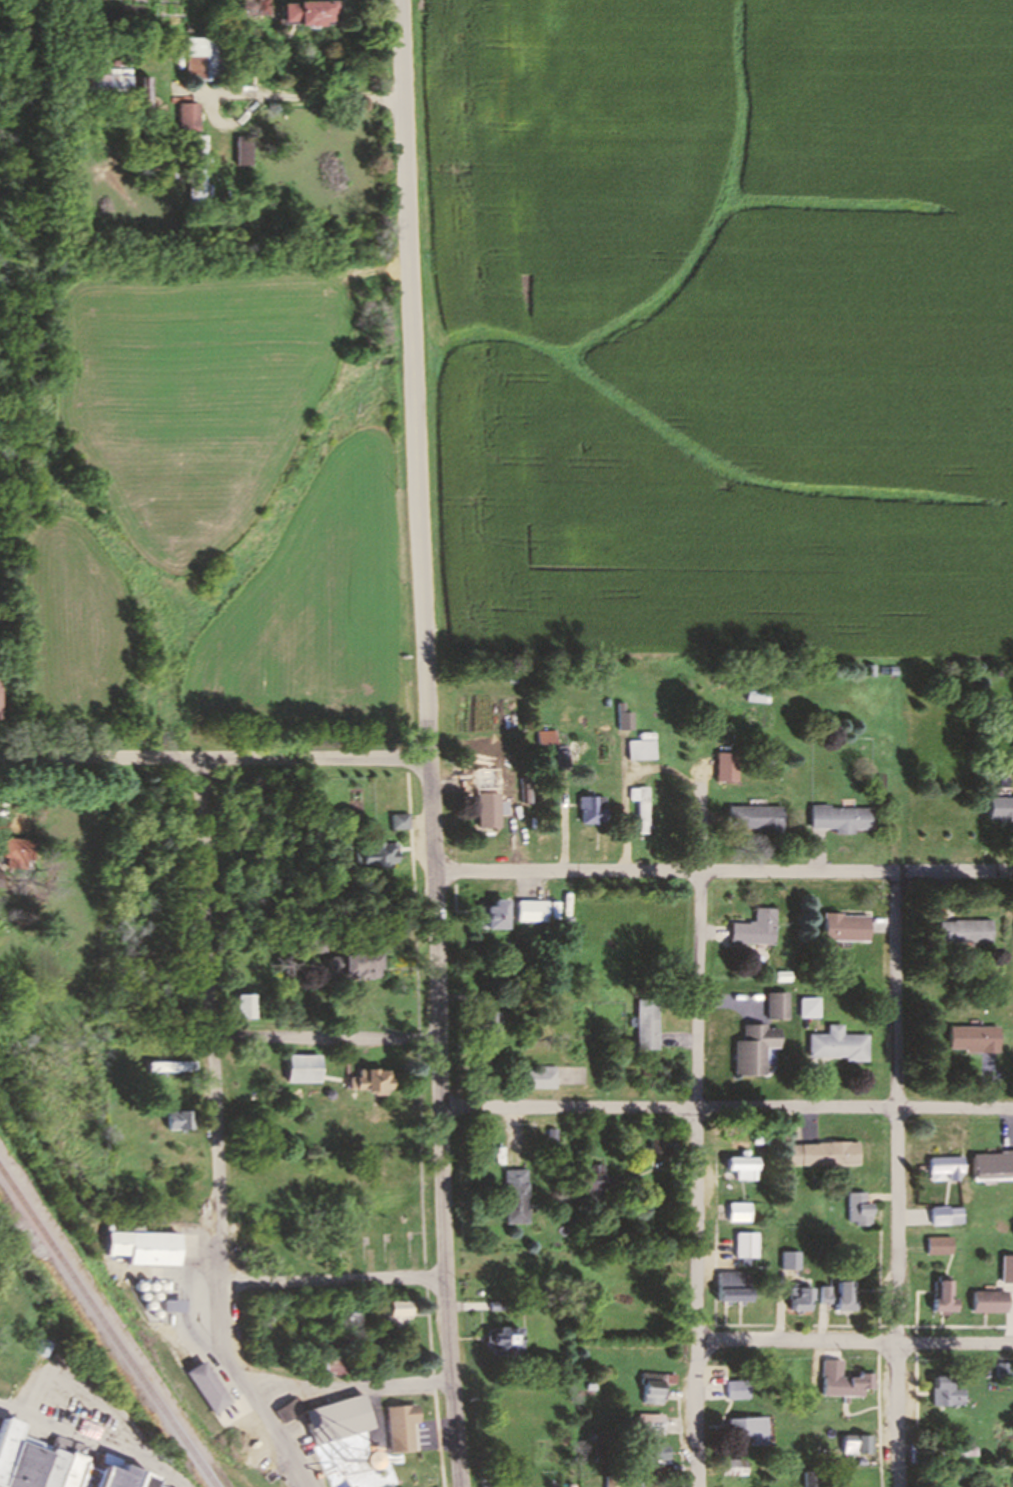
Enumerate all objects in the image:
building: (256, 7)
building: (307, 12)
building: (204, 59)
building: (503, 66)
building: (107, 88)
building: (189, 117)
building: (245, 152)
building: (198, 172)
building: (755, 696)
building: (620, 718)
building: (541, 737)
road: (424, 743)
building: (638, 747)
road: (212, 757)
building: (521, 790)
building: (483, 801)
building: (636, 806)
building: (1000, 808)
building: (587, 810)
building: (839, 818)
building: (752, 819)
building: (394, 821)
building: (13, 853)
building: (375, 855)
road: (721, 870)
building: (528, 911)
building: (490, 916)
building: (844, 928)
building: (753, 929)
building: (964, 932)
building: (307, 947)
building: (349, 967)
building: (488, 997)
building: (242, 1006)
building: (777, 1007)
building: (809, 1008)
building: (489, 1024)
building: (647, 1025)
road: (322, 1038)
building: (974, 1039)
building: (838, 1045)
building: (755, 1050)
building: (169, 1067)
building: (483, 1067)
building: (302, 1068)
building: (536, 1078)
building: (128, 1081)
building: (370, 1082)
road: (727, 1107)
building: (178, 1121)
road: (213, 1135)
building: (659, 1145)
building: (825, 1154)
building: (993, 1165)
building: (744, 1167)
building: (947, 1168)
road: (700, 1178)
road: (898, 1179)
building: (596, 1181)
building: (520, 1196)
building: (860, 1209)
building: (741, 1212)
building: (948, 1215)
building: (144, 1245)
building: (749, 1245)
building: (941, 1245)
building: (793, 1260)
building: (1008, 1269)
road: (336, 1279)
building: (738, 1287)
building: (842, 1295)
building: (947, 1297)
building: (804, 1299)
building: (993, 1301)
building: (399, 1319)
railway: (107, 1332)
building: (509, 1341)
road: (858, 1341)
building: (45, 1346)
building: (336, 1365)
building: (1006, 1370)
building: (847, 1380)
road: (350, 1383)
road: (85, 1386)
building: (210, 1387)
building: (5, 1388)
building: (658, 1388)
building: (744, 1389)
building: (951, 1391)
parking lot: (72, 1403)
building: (291, 1409)
building: (343, 1418)
building: (654, 1423)
building: (405, 1426)
building: (753, 1431)
road: (95, 1439)
building: (9, 1443)
building: (862, 1444)
building: (957, 1450)
building: (654, 1451)
building: (361, 1456)
building: (56, 1462)
building: (27, 1463)
water tower: (343, 1463)
building: (74, 1465)
building: (737, 1467)
building: (115, 1473)
building: (953, 1474)
building: (88, 1476)
building: (814, 1479)
building: (144, 1480)
building: (493, 1485)
building: (155, 1486)
building: (353, 1486)
building: (355, 1486)

